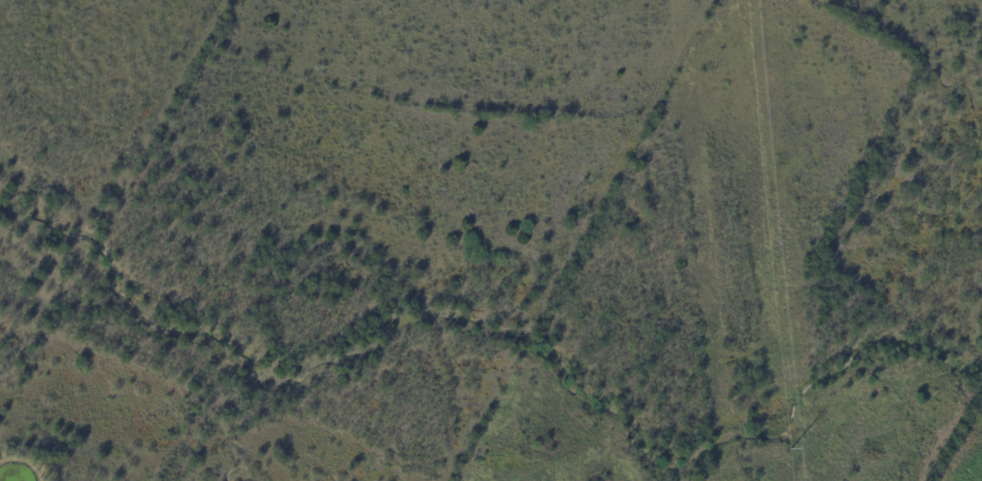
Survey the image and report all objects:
power tower: (790, 447)

